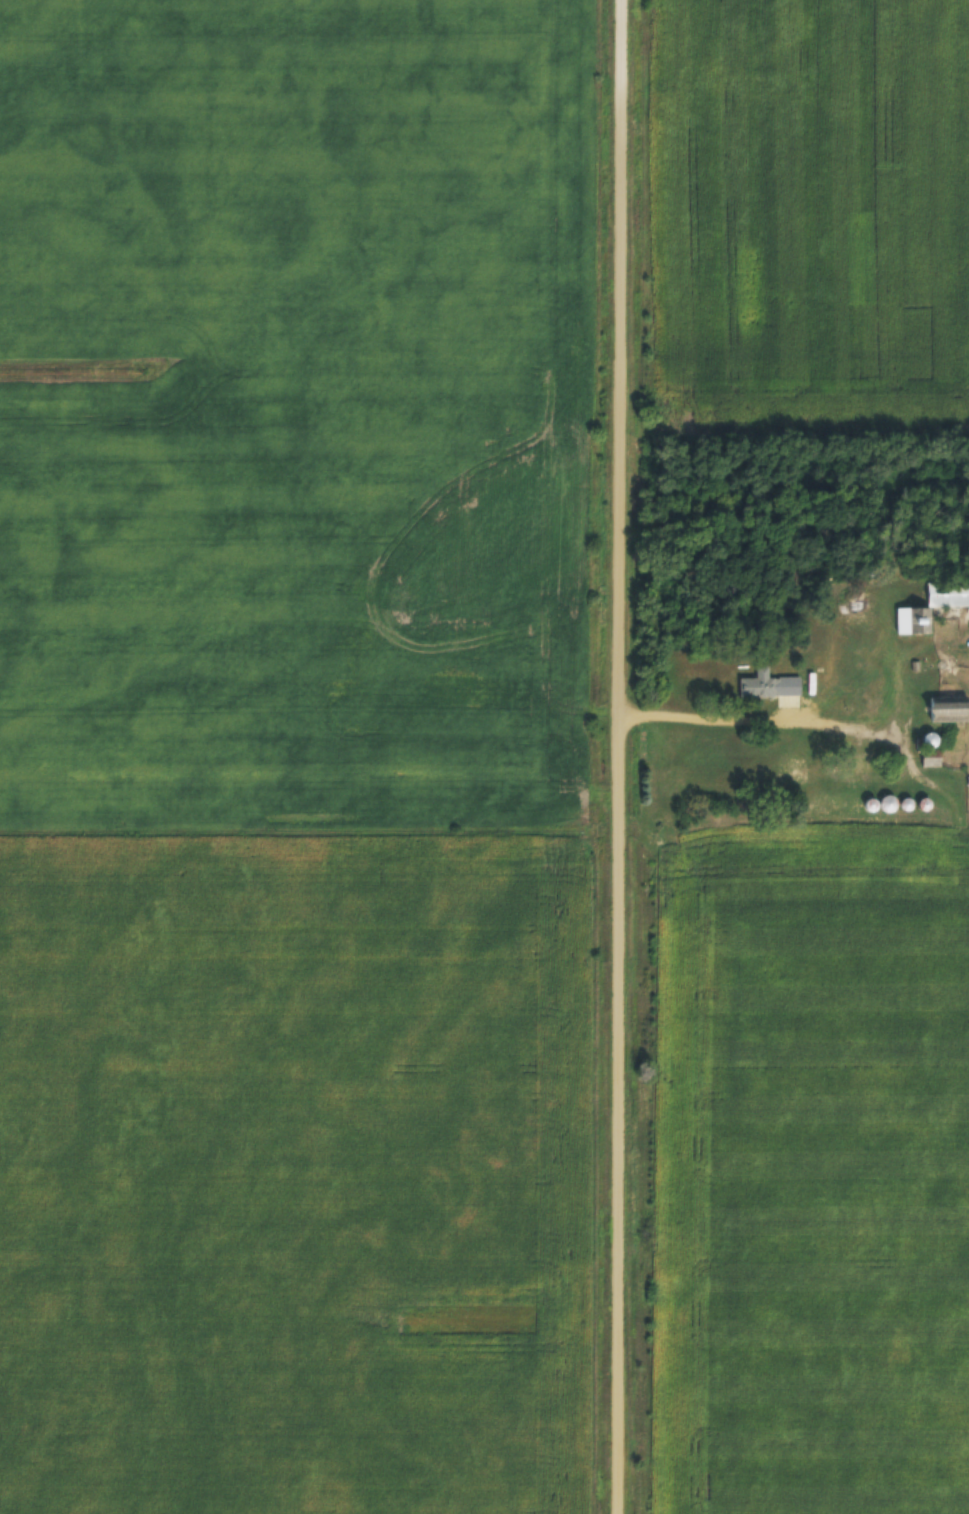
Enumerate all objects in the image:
building: (933, 607)
building: (761, 685)
building: (950, 710)
road: (719, 721)
road: (615, 756)
building: (794, 766)

